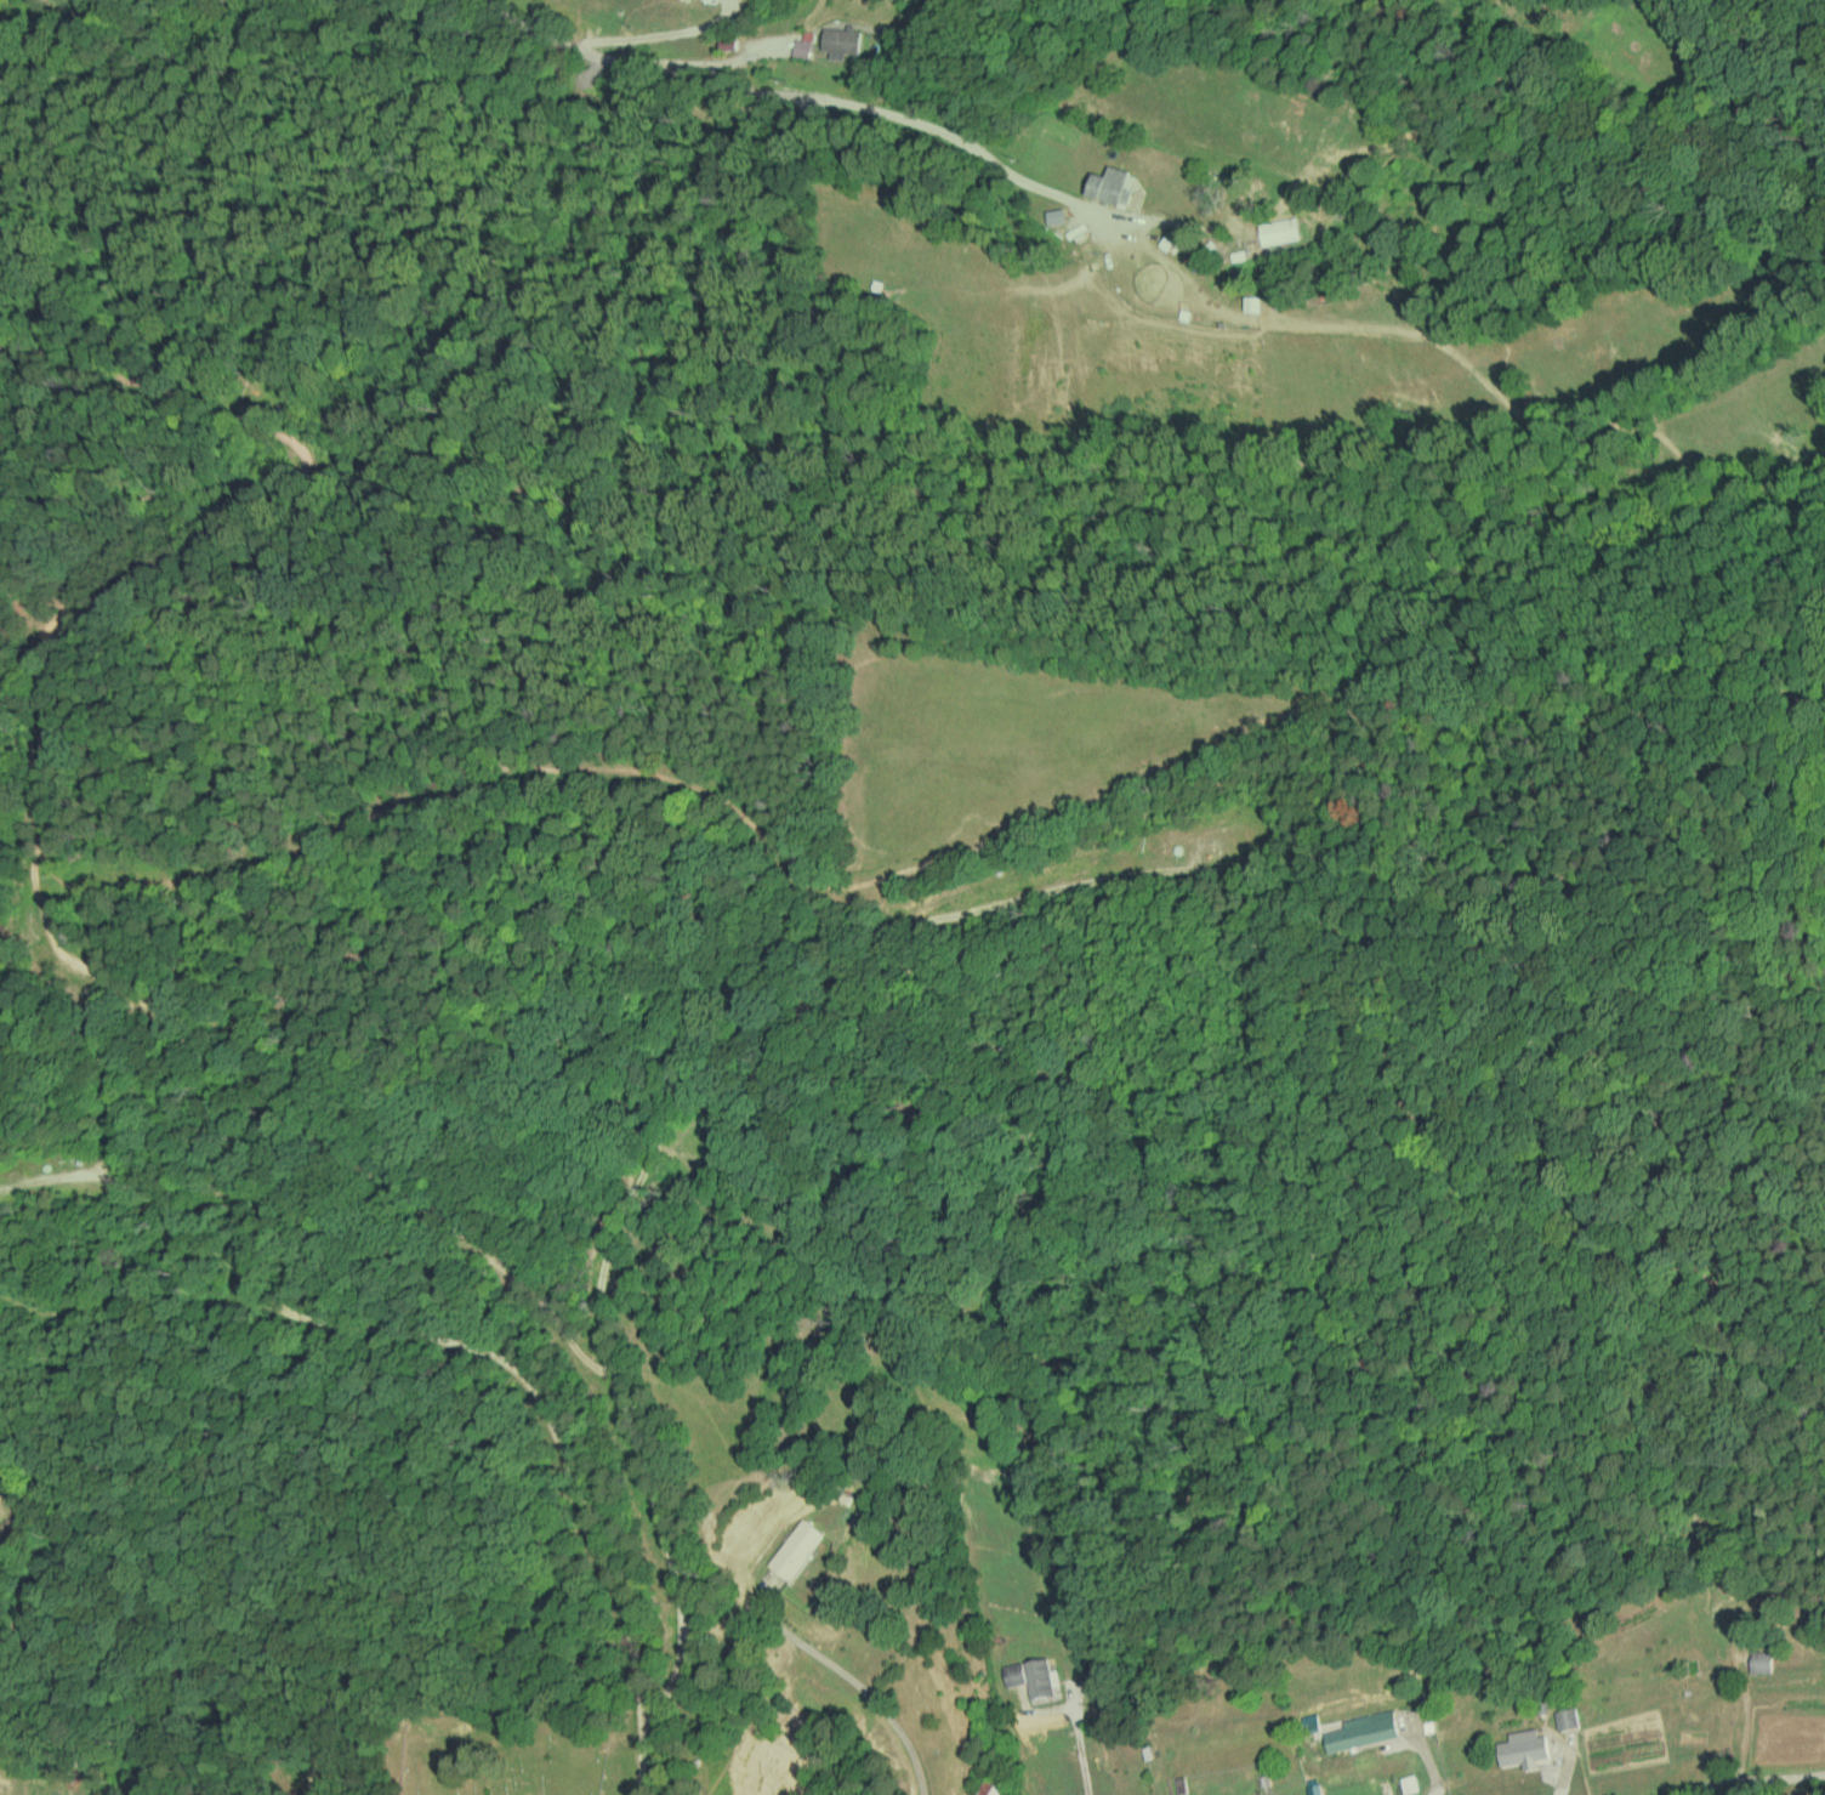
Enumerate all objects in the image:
building: (841, 41)
building: (597, 55)
road: (801, 68)
building: (1112, 186)
building: (796, 1547)
road: (1080, 1643)
road: (868, 1693)
building: (1363, 1729)
building: (1523, 1748)

